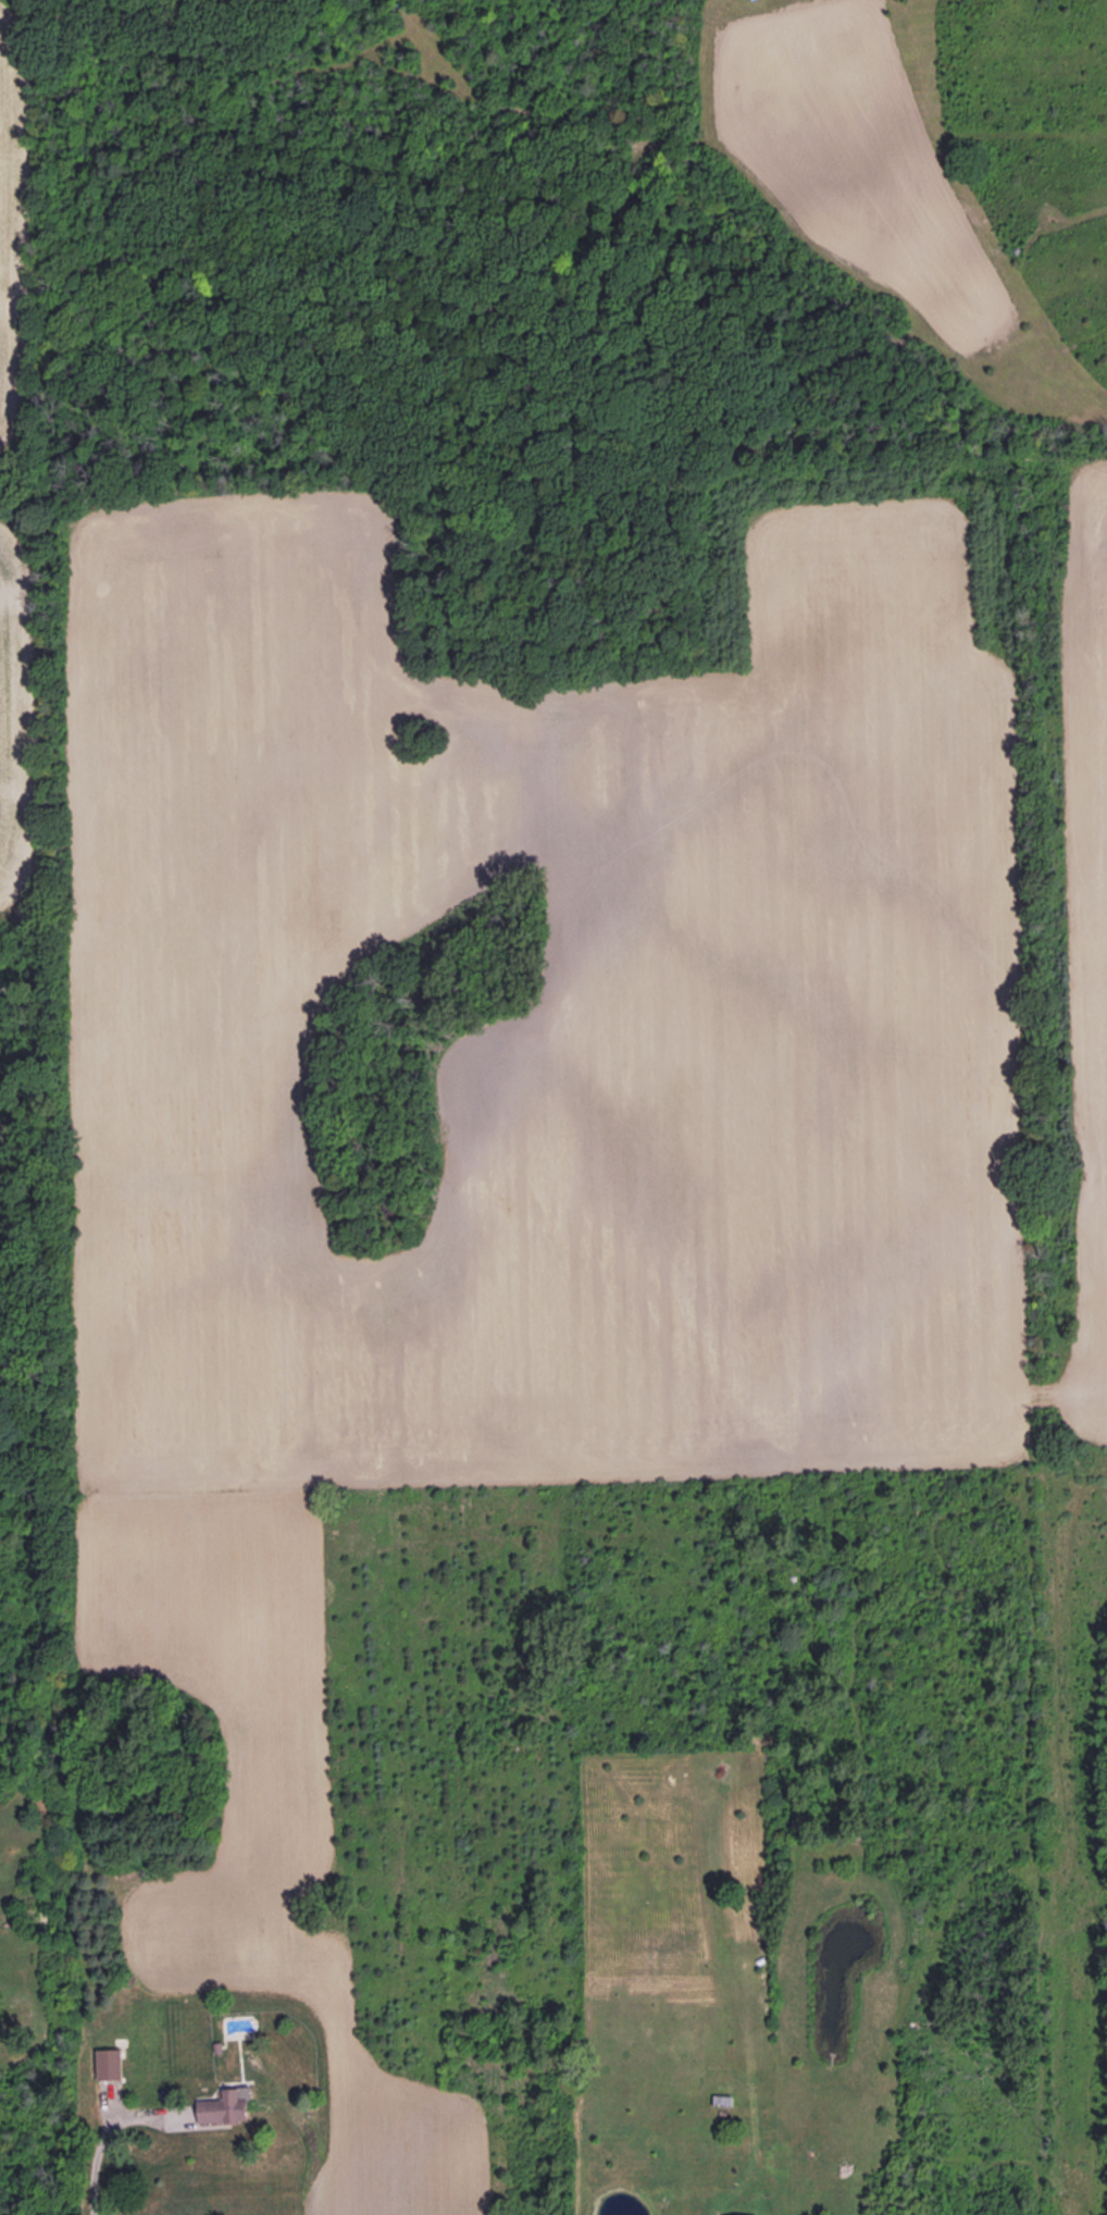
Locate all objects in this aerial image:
building: (109, 2064)
building: (225, 2106)
road: (100, 2140)

